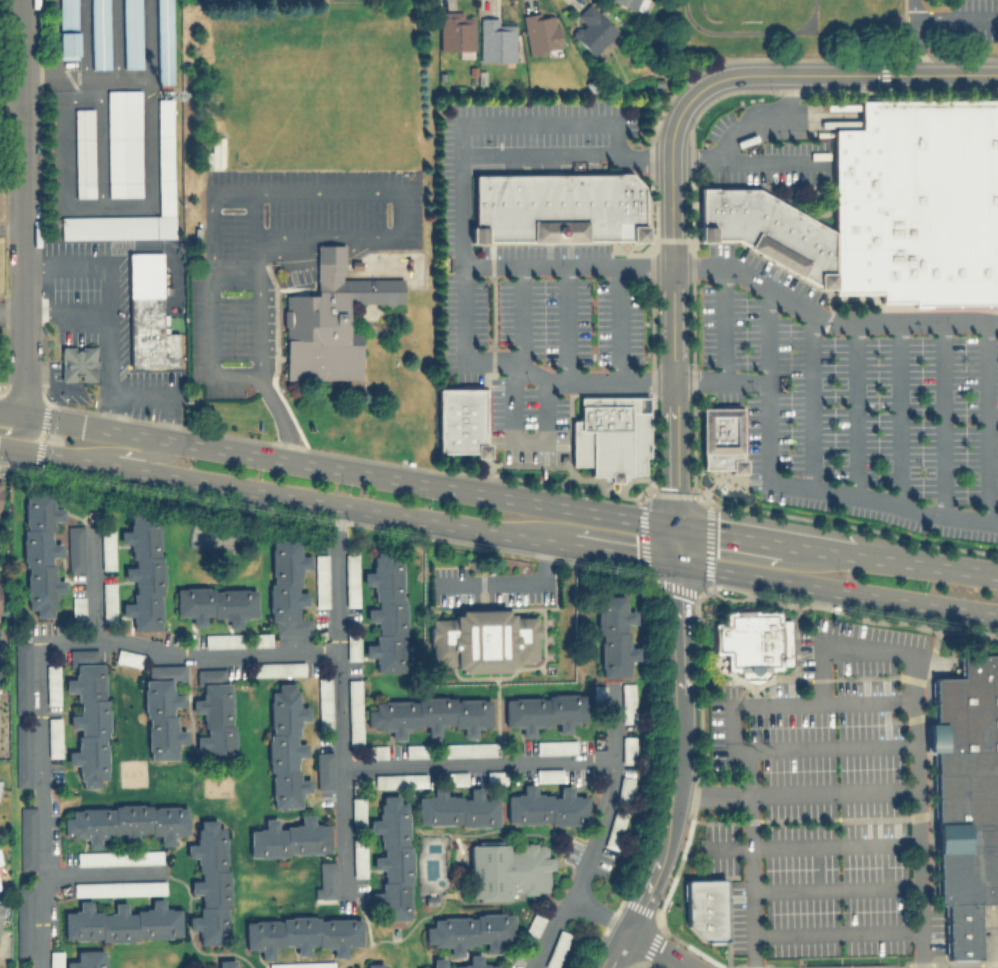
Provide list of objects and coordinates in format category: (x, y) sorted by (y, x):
road: (10, 2)
building: (631, 4)
park: (750, 7)
road: (955, 17)
parking lot: (973, 20)
road: (51, 22)
building: (67, 28)
building: (591, 28)
building: (540, 31)
road: (747, 31)
building: (455, 32)
building: (99, 33)
building: (131, 33)
road: (913, 35)
road: (115, 37)
road: (148, 37)
road: (83, 38)
building: (494, 40)
building: (163, 41)
road: (838, 72)
road: (86, 76)
road: (12, 101)
road: (764, 119)
road: (539, 121)
parking lot: (532, 124)
road: (100, 140)
building: (124, 143)
building: (83, 152)
building: (164, 157)
parking lot: (763, 158)
road: (775, 158)
road: (12, 182)
building: (917, 203)
road: (102, 204)
road: (25, 207)
building: (556, 207)
road: (398, 213)
road: (256, 215)
road: (12, 228)
building: (767, 230)
road: (672, 238)
road: (549, 267)
road: (235, 281)
road: (106, 283)
building: (148, 313)
road: (12, 314)
road: (65, 314)
building: (329, 319)
road: (724, 323)
road: (567, 324)
road: (620, 324)
parking lot: (531, 328)
road: (213, 355)
building: (77, 363)
road: (523, 369)
road: (720, 381)
road: (141, 392)
road: (513, 400)
road: (808, 400)
parking lot: (852, 405)
road: (854, 410)
road: (11, 413)
road: (896, 413)
road: (281, 416)
road: (942, 418)
building: (460, 420)
road: (984, 421)
road: (17, 430)
building: (610, 435)
building: (720, 439)
road: (124, 452)
road: (675, 453)
building: (563, 458)
road: (349, 470)
building: (0, 480)
road: (739, 480)
road: (787, 484)
road: (710, 485)
fountain: (721, 486)
road: (274, 493)
road: (692, 495)
traffic signals: (676, 527)
road: (728, 534)
road: (677, 546)
building: (107, 549)
road: (817, 549)
building: (39, 552)
building: (75, 552)
road: (613, 552)
road: (925, 563)
traffic signals: (678, 565)
building: (143, 568)
road: (333, 576)
building: (351, 579)
building: (321, 580)
road: (93, 581)
road: (514, 583)
building: (287, 585)
road: (837, 590)
building: (108, 601)
building: (215, 603)
building: (77, 606)
building: (386, 609)
building: (614, 635)
building: (261, 639)
building: (483, 639)
building: (223, 640)
building: (752, 642)
building: (352, 647)
road: (861, 648)
road: (40, 656)
building: (129, 657)
road: (513, 666)
building: (277, 668)
building: (22, 677)
building: (52, 683)
building: (598, 692)
building: (627, 702)
building: (324, 703)
building: (162, 710)
building: (543, 710)
building: (354, 712)
building: (214, 713)
building: (429, 715)
building: (88, 716)
road: (730, 728)
building: (53, 737)
building: (555, 746)
building: (285, 747)
building: (470, 749)
building: (628, 749)
building: (417, 750)
building: (374, 752)
building: (22, 754)
road: (474, 761)
building: (324, 770)
road: (340, 772)
road: (675, 773)
building: (548, 775)
building: (457, 778)
building: (399, 780)
building: (966, 781)
building: (624, 786)
road: (794, 793)
parking lot: (822, 803)
building: (546, 807)
building: (457, 808)
building: (357, 810)
building: (126, 822)
building: (615, 829)
road: (916, 833)
road: (595, 834)
building: (27, 838)
building: (289, 838)
road: (809, 844)
building: (118, 857)
building: (359, 857)
building: (391, 857)
road: (751, 859)
building: (0, 862)
building: (508, 869)
road: (100, 872)
building: (326, 879)
building: (209, 882)
road: (835, 886)
building: (119, 888)
road: (443, 899)
building: (1, 906)
building: (705, 908)
road: (598, 912)
building: (25, 922)
building: (121, 922)
building: (534, 924)
building: (960, 930)
building: (470, 931)
road: (837, 932)
road: (188, 933)
building: (302, 933)
road: (659, 948)
building: (557, 949)
building: (56, 959)
building: (88, 959)
building: (437, 960)
building: (227, 963)
building: (301, 964)
building: (372, 965)
building: (25, 967)
building: (211, 967)

